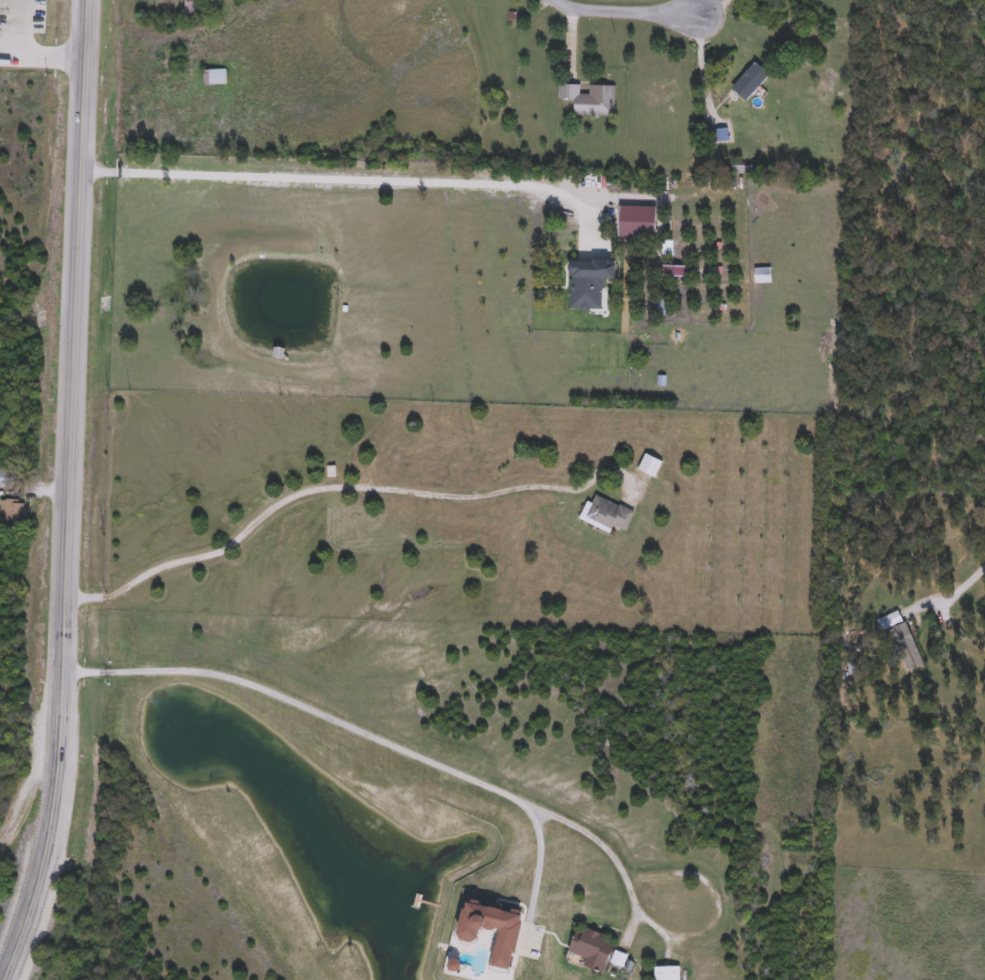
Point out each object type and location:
building: (190, 9)
road: (630, 17)
road: (16, 28)
road: (46, 58)
building: (214, 77)
building: (750, 81)
building: (589, 99)
road: (344, 179)
building: (632, 228)
building: (585, 288)
building: (649, 466)
road: (311, 481)
road: (73, 494)
building: (12, 511)
building: (605, 515)
road: (965, 586)
building: (905, 647)
road: (380, 736)
road: (539, 842)
road: (718, 910)
building: (598, 952)
building: (529, 966)
building: (667, 973)

